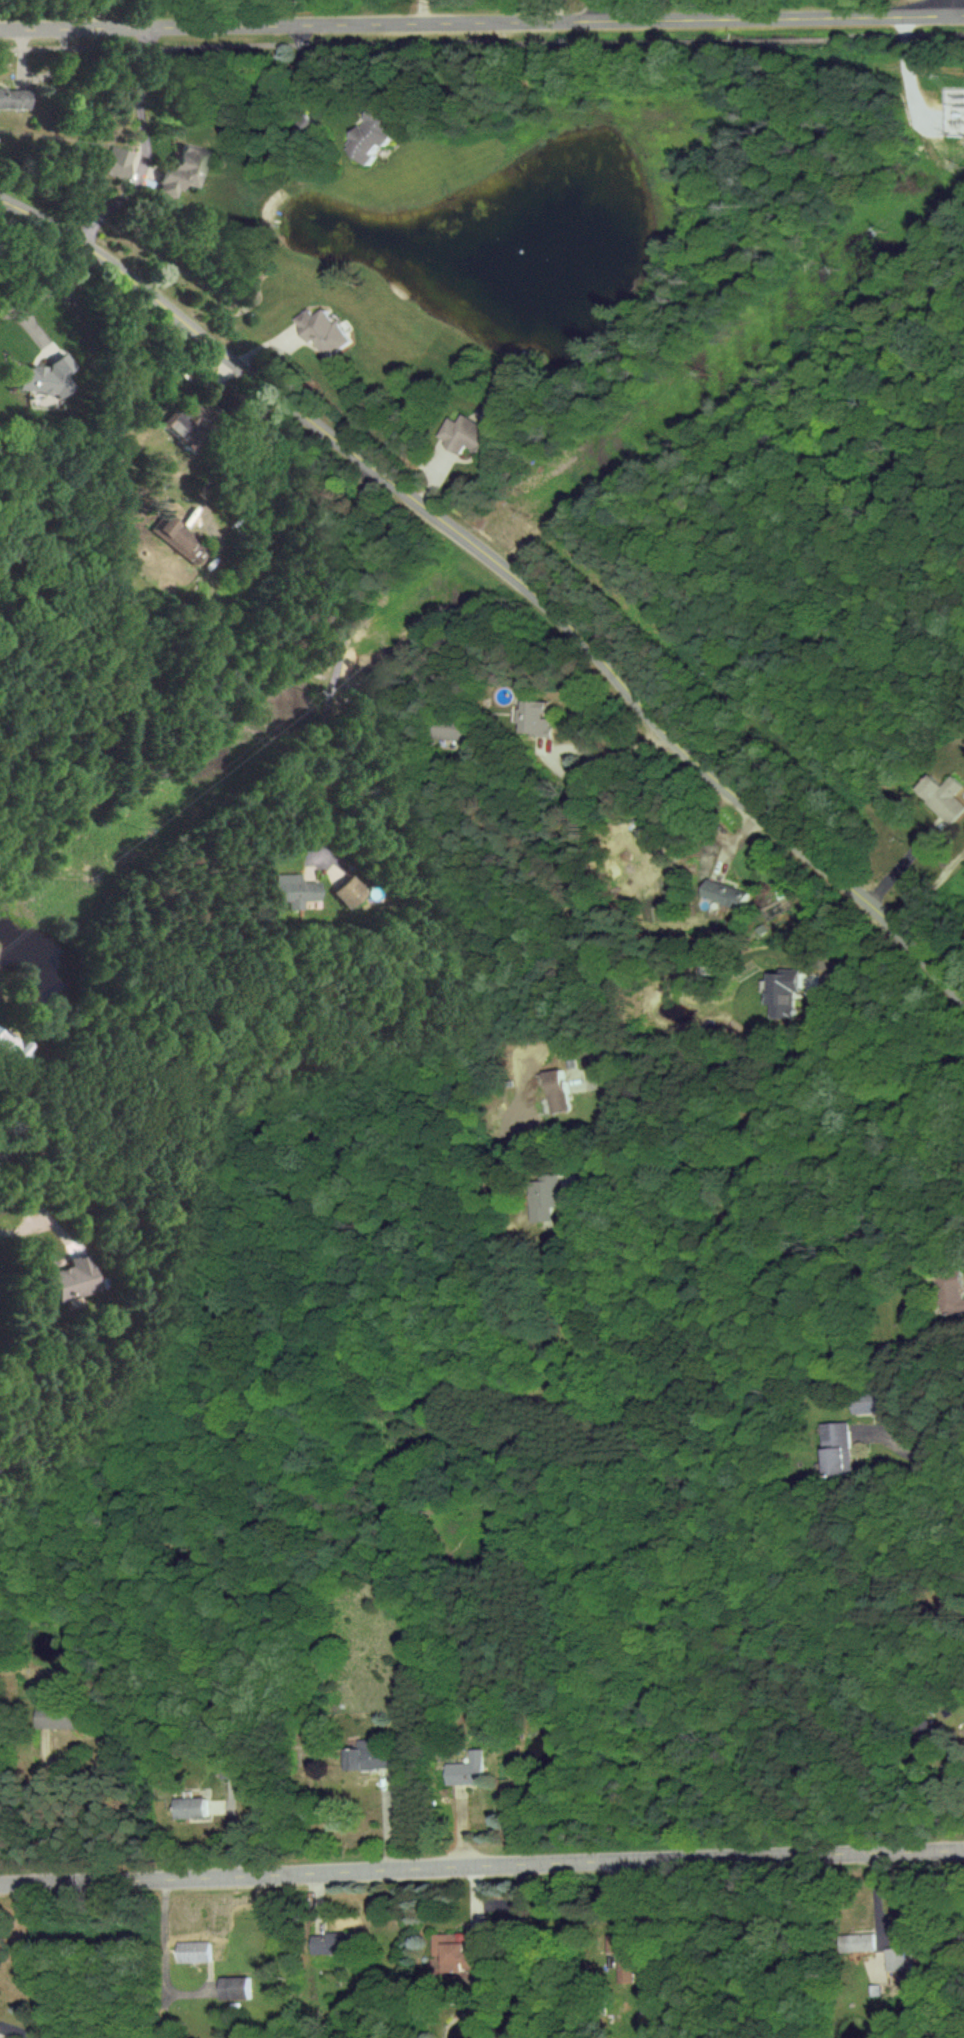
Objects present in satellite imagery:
road: (961, 7)
road: (595, 10)
road: (482, 21)
road: (482, 42)
building: (11, 98)
building: (366, 139)
road: (146, 145)
building: (111, 163)
building: (178, 171)
road: (51, 288)
building: (318, 330)
building: (39, 377)
building: (180, 419)
building: (464, 434)
building: (174, 538)
road: (506, 572)
road: (339, 652)
building: (535, 718)
building: (454, 731)
road: (579, 776)
building: (943, 796)
road: (929, 886)
building: (287, 890)
building: (345, 893)
building: (721, 894)
road: (854, 963)
building: (782, 994)
building: (5, 1046)
road: (775, 1051)
building: (554, 1091)
road: (775, 1157)
road: (32, 1195)
building: (550, 1196)
road: (20, 1217)
building: (68, 1277)
building: (951, 1294)
building: (868, 1401)
building: (836, 1448)
road: (927, 1455)
building: (55, 1719)
building: (367, 1757)
building: (464, 1770)
building: (186, 1807)
road: (481, 1865)
building: (855, 1942)
building: (614, 1943)
building: (328, 1944)
building: (452, 1951)
building: (192, 1952)
building: (894, 1959)
building: (629, 1967)
building: (234, 1988)
road: (21, 2028)

